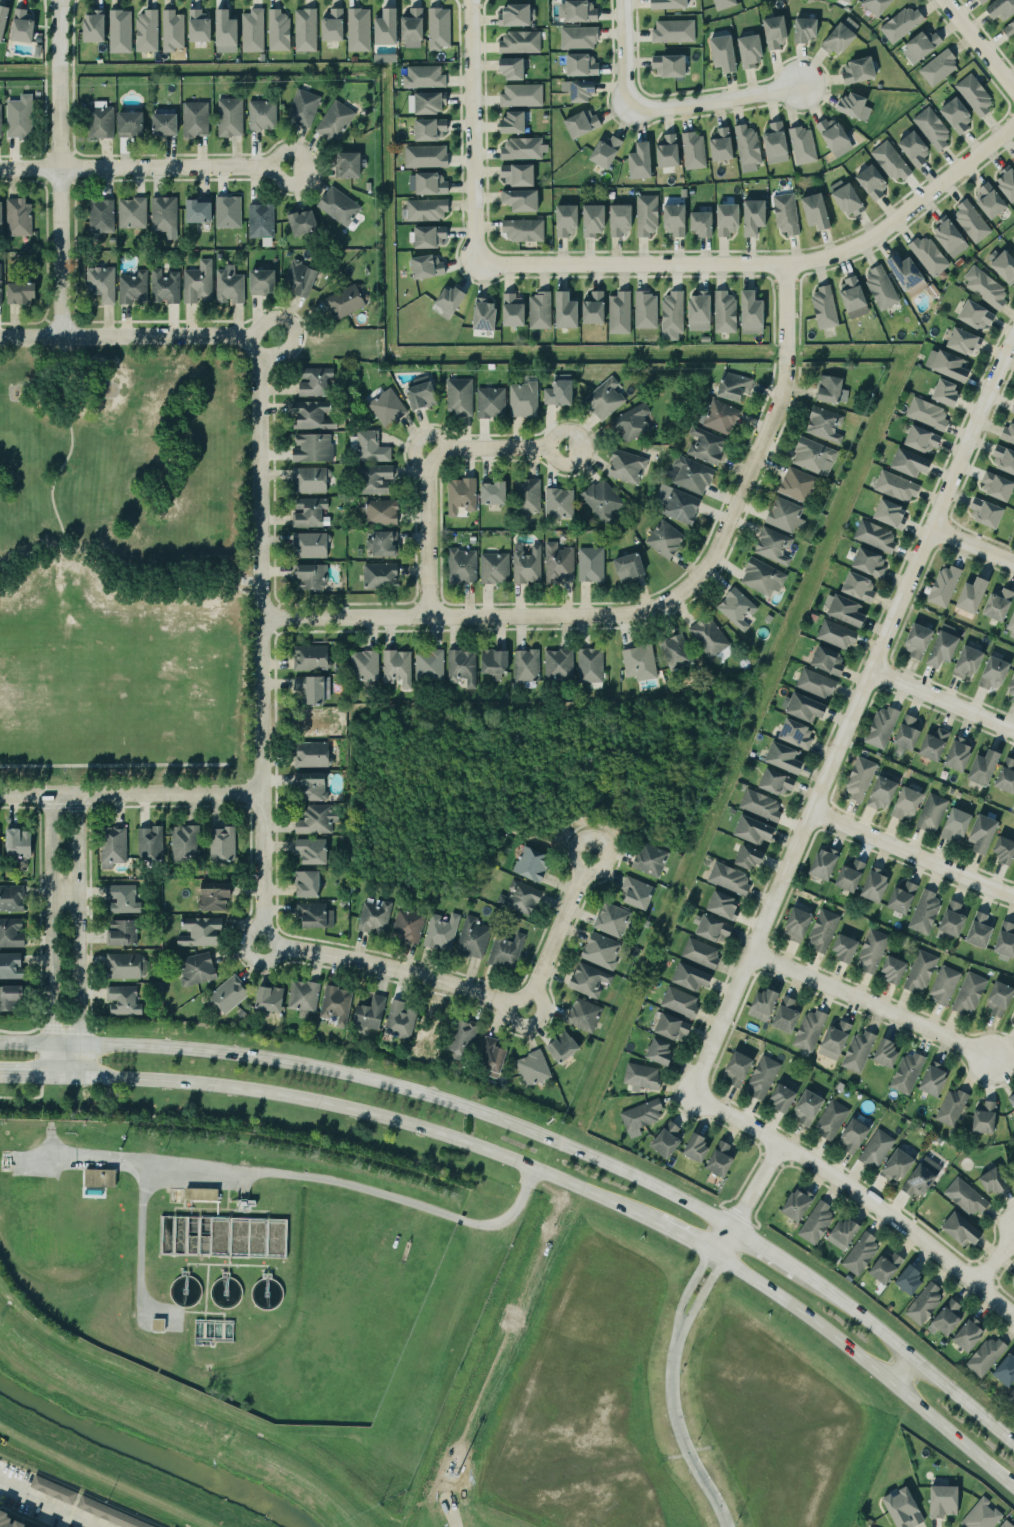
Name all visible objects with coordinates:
building: (850, 1)
building: (988, 1)
building: (726, 4)
building: (673, 5)
building: (881, 6)
building: (1004, 10)
building: (580, 12)
building: (519, 16)
building: (5, 22)
building: (905, 24)
building: (97, 26)
building: (336, 26)
building: (25, 27)
building: (202, 27)
building: (390, 29)
building: (416, 29)
building: (441, 29)
building: (361, 30)
building: (804, 30)
building: (119, 31)
building: (174, 31)
building: (255, 31)
building: (308, 31)
building: (1010, 31)
building: (149, 32)
building: (281, 32)
building: (676, 32)
building: (229, 33)
building: (778, 33)
building: (844, 36)
building: (578, 37)
building: (37, 39)
building: (523, 43)
road: (977, 45)
building: (926, 46)
building: (37, 51)
building: (754, 51)
building: (722, 53)
road: (626, 55)
building: (585, 66)
building: (673, 67)
building: (511, 68)
building: (941, 68)
building: (862, 71)
building: (423, 77)
building: (582, 91)
building: (520, 96)
building: (977, 97)
road: (715, 101)
building: (413, 104)
building: (432, 104)
building: (859, 107)
building: (305, 108)
building: (265, 116)
building: (960, 116)
building: (22, 118)
building: (232, 118)
building: (197, 119)
building: (1, 120)
building: (104, 121)
building: (337, 121)
building: (517, 123)
building: (585, 124)
building: (134, 125)
building: (168, 125)
building: (433, 130)
road: (474, 130)
building: (935, 130)
building: (838, 138)
building: (779, 144)
building: (801, 145)
building: (724, 146)
building: (526, 149)
building: (750, 149)
building: (917, 149)
building: (696, 151)
building: (609, 152)
building: (671, 152)
building: (428, 157)
building: (1013, 161)
building: (645, 162)
building: (893, 162)
building: (353, 166)
road: (59, 167)
road: (145, 168)
building: (521, 176)
building: (1008, 181)
building: (875, 183)
building: (430, 184)
building: (367, 186)
building: (850, 199)
building: (525, 201)
building: (994, 202)
building: (338, 206)
building: (429, 210)
building: (230, 212)
building: (820, 212)
building: (134, 213)
building: (202, 213)
building: (165, 214)
building: (2, 215)
building: (650, 215)
building: (788, 215)
building: (103, 216)
building: (21, 217)
building: (758, 218)
building: (624, 220)
building: (731, 220)
building: (263, 221)
building: (570, 221)
building: (598, 221)
building: (679, 221)
building: (974, 221)
building: (307, 224)
building: (706, 225)
building: (526, 230)
building: (432, 237)
building: (952, 237)
building: (931, 256)
building: (1004, 264)
road: (768, 265)
building: (430, 268)
building: (903, 271)
building: (303, 280)
building: (200, 283)
building: (266, 283)
building: (104, 284)
building: (1, 285)
building: (232, 286)
building: (135, 288)
building: (167, 288)
building: (880, 288)
building: (987, 288)
building: (24, 294)
building: (856, 294)
building: (348, 302)
building: (453, 302)
building: (827, 308)
building: (597, 309)
building: (645, 310)
building: (517, 311)
building: (539, 311)
building: (565, 311)
building: (703, 312)
building: (619, 313)
building: (728, 313)
building: (756, 314)
building: (488, 315)
building: (979, 316)
building: (675, 317)
road: (130, 336)
building: (705, 339)
building: (968, 343)
building: (950, 366)
building: (319, 382)
building: (736, 388)
building: (834, 391)
building: (424, 394)
building: (950, 394)
building: (561, 395)
building: (461, 398)
building: (606, 399)
building: (524, 400)
building: (492, 403)
building: (389, 408)
building: (1013, 410)
building: (930, 414)
building: (316, 416)
building: (723, 418)
building: (634, 423)
building: (826, 425)
building: (1009, 435)
building: (926, 440)
road: (70, 443)
building: (708, 446)
building: (374, 448)
building: (314, 449)
building: (816, 457)
building: (1004, 459)
building: (914, 464)
road: (430, 465)
building: (629, 467)
building: (691, 475)
building: (312, 480)
building: (379, 480)
building: (798, 485)
building: (898, 487)
building: (999, 487)
building: (529, 494)
building: (498, 495)
building: (464, 496)
building: (604, 500)
building: (560, 504)
building: (678, 504)
building: (384, 513)
building: (989, 514)
building: (786, 515)
building: (894, 515)
building: (877, 536)
building: (666, 540)
building: (385, 545)
road: (972, 545)
building: (312, 546)
building: (775, 546)
building: (560, 563)
building: (872, 564)
building: (592, 565)
building: (464, 566)
building: (530, 566)
building: (496, 568)
building: (632, 568)
park: (127, 569)
building: (382, 576)
building: (314, 578)
building: (765, 578)
road: (121, 582)
building: (947, 587)
building: (862, 589)
building: (976, 597)
building: (1002, 605)
building: (739, 609)
road: (651, 610)
building: (848, 612)
building: (1012, 628)
building: (839, 636)
building: (711, 637)
road: (261, 641)
building: (923, 642)
building: (947, 648)
building: (680, 653)
building: (313, 658)
building: (830, 662)
building: (497, 664)
building: (642, 664)
building: (971, 664)
building: (367, 666)
building: (431, 666)
building: (528, 666)
building: (560, 666)
building: (592, 666)
building: (399, 667)
building: (464, 667)
building: (997, 675)
building: (819, 685)
building: (1012, 687)
building: (314, 691)
road: (942, 699)
building: (1013, 701)
building: (807, 708)
road: (849, 716)
building: (884, 727)
building: (799, 735)
building: (910, 735)
building: (937, 745)
building: (314, 755)
building: (961, 756)
building: (788, 760)
building: (987, 769)
park: (523, 775)
building: (1007, 776)
building: (862, 780)
building: (779, 784)
building: (315, 787)
road: (129, 793)
building: (885, 793)
building: (909, 804)
building: (763, 807)
building: (934, 813)
building: (318, 820)
building: (959, 827)
building: (757, 832)
building: (987, 834)
building: (0, 843)
building: (22, 843)
building: (153, 843)
building: (188, 844)
building: (225, 844)
building: (116, 847)
building: (314, 851)
building: (1005, 851)
road: (911, 853)
building: (753, 857)
building: (653, 859)
building: (534, 863)
building: (828, 864)
building: (853, 876)
building: (731, 879)
building: (310, 884)
building: (878, 887)
building: (639, 893)
road: (64, 896)
building: (217, 896)
building: (906, 897)
building: (13, 898)
building: (522, 898)
building: (124, 899)
building: (727, 905)
building: (927, 912)
building: (317, 915)
building: (376, 916)
building: (614, 919)
building: (956, 920)
building: (801, 924)
building: (410, 926)
building: (717, 929)
building: (826, 930)
building: (982, 931)
building: (203, 932)
building: (443, 932)
building: (12, 933)
building: (124, 933)
road: (52, 935)
road: (77, 936)
building: (474, 938)
building: (1007, 941)
building: (849, 948)
building: (508, 951)
building: (604, 951)
building: (875, 951)
building: (703, 953)
building: (12, 966)
building: (127, 966)
building: (199, 969)
building: (897, 969)
building: (923, 972)
building: (695, 977)
building: (591, 980)
building: (946, 985)
building: (231, 994)
road: (476, 994)
building: (972, 994)
building: (305, 996)
building: (12, 998)
building: (272, 999)
building: (1002, 1000)
building: (125, 1001)
building: (682, 1002)
building: (338, 1005)
building: (766, 1005)
road: (871, 1006)
building: (373, 1013)
building: (586, 1015)
building: (790, 1015)
building: (403, 1020)
building: (675, 1028)
building: (813, 1030)
building: (465, 1039)
building: (839, 1039)
building: (566, 1047)
building: (861, 1052)
building: (664, 1053)
building: (890, 1054)
building: (495, 1057)
building: (535, 1068)
building: (741, 1069)
building: (910, 1073)
road: (27, 1077)
building: (645, 1077)
building: (765, 1077)
building: (938, 1080)
road: (379, 1086)
building: (786, 1098)
building: (1011, 1101)
road: (315, 1105)
building: (954, 1108)
building: (810, 1109)
building: (644, 1117)
building: (987, 1117)
building: (833, 1120)
building: (856, 1137)
building: (670, 1140)
building: (700, 1148)
building: (878, 1149)
building: (723, 1160)
building: (900, 1166)
road: (304, 1176)
building: (926, 1177)
building: (98, 1179)
building: (997, 1182)
building: (200, 1195)
road: (859, 1196)
building: (969, 1198)
road: (604, 1200)
road: (747, 1202)
building: (801, 1206)
building: (818, 1223)
building: (965, 1230)
building: (846, 1234)
road: (679, 1236)
building: (222, 1238)
road: (140, 1248)
road: (770, 1254)
building: (863, 1254)
road: (994, 1258)
building: (889, 1267)
building: (912, 1280)
road: (689, 1287)
building: (184, 1292)
building: (225, 1292)
building: (266, 1293)
road: (702, 1293)
building: (927, 1304)
building: (949, 1319)
building: (161, 1325)
building: (212, 1332)
building: (971, 1335)
building: (987, 1357)
road: (912, 1359)
road: (870, 1364)
road: (900, 1368)
building: (1007, 1371)
building: (1012, 1396)
road: (679, 1430)
building: (56, 1490)
building: (947, 1502)
road: (50, 1504)
building: (907, 1509)
building: (112, 1514)
building: (984, 1515)
building: (9, 1520)
building: (1008, 1524)

